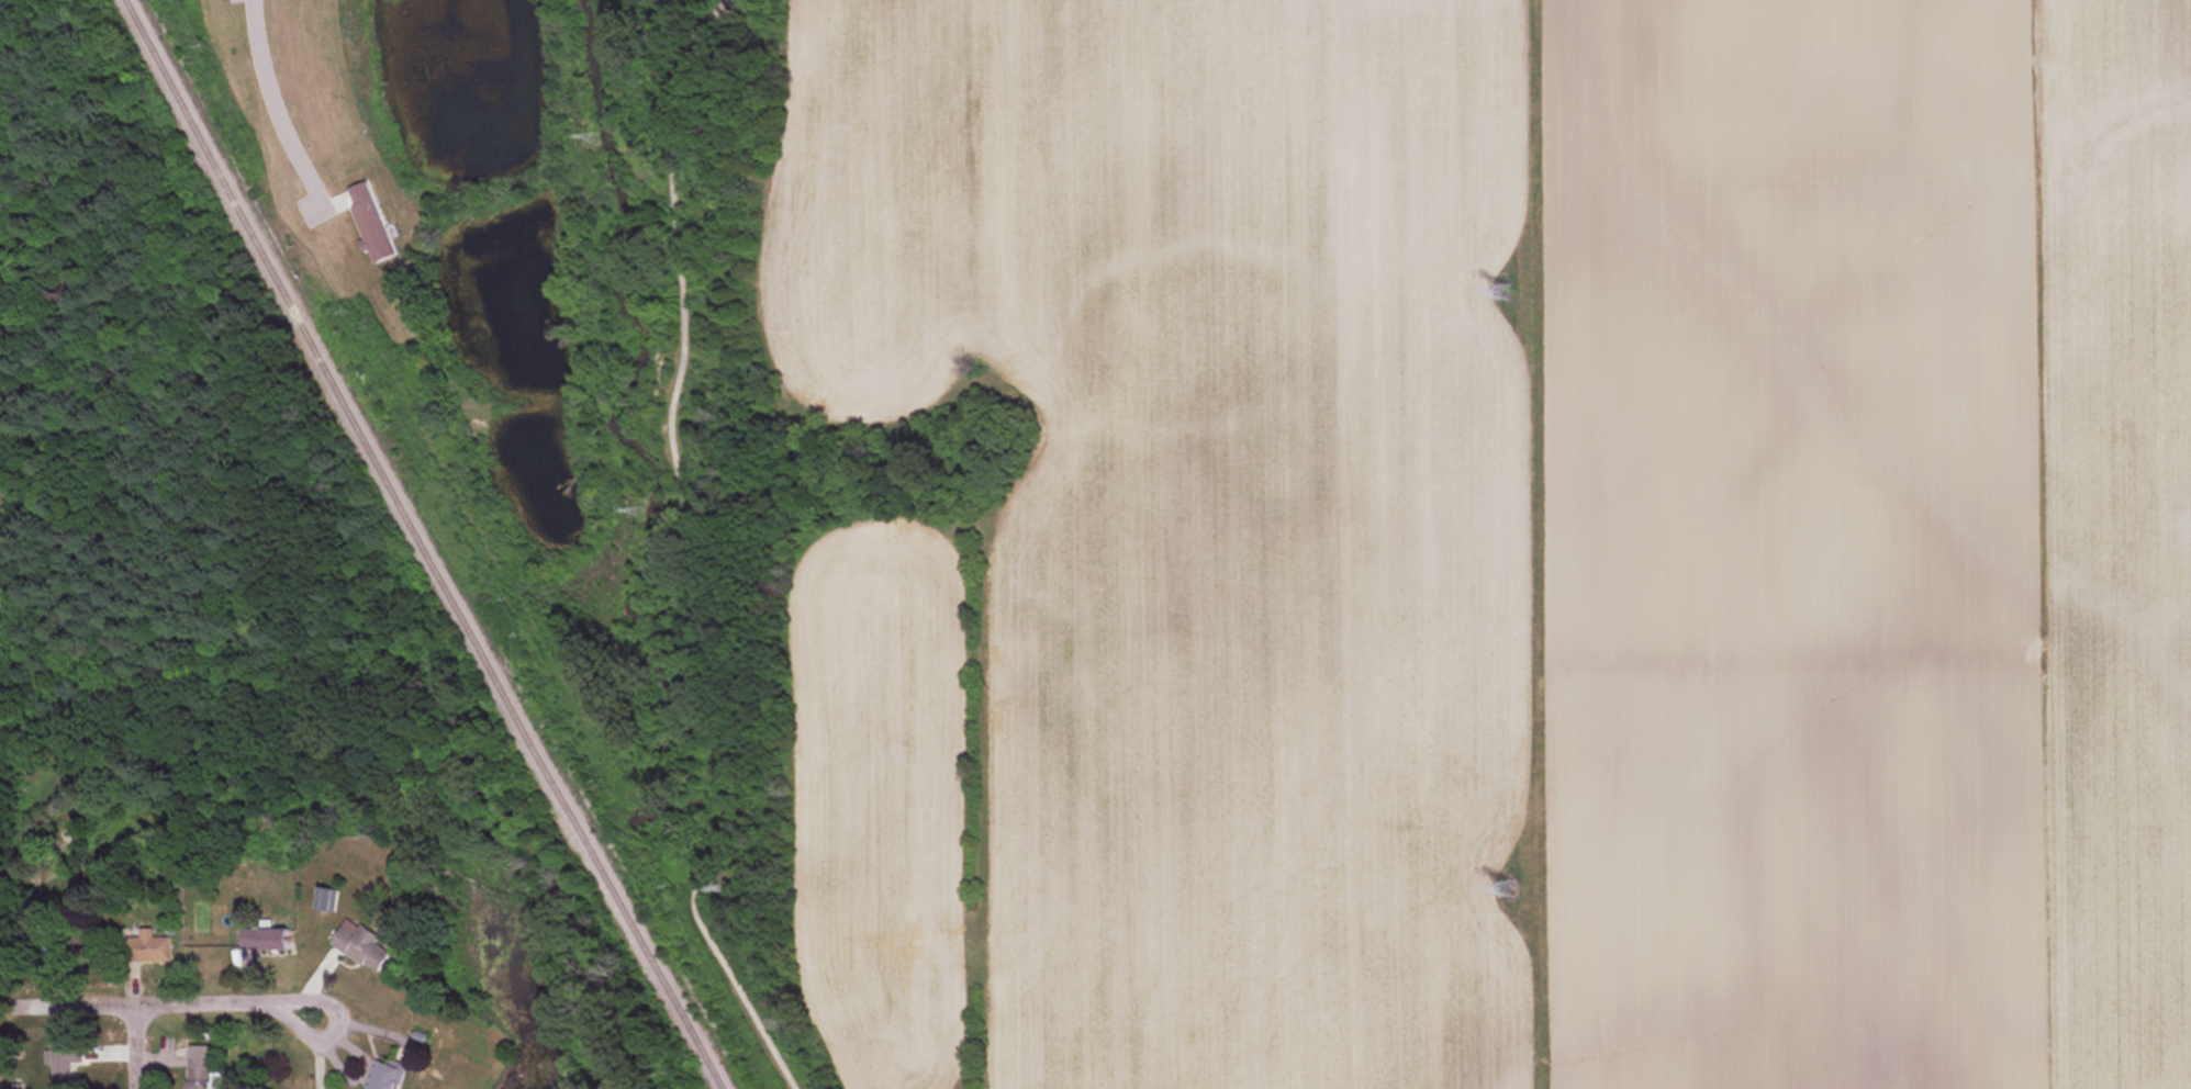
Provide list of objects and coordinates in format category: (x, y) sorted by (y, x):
road: (277, 106)
building: (369, 224)
power tower: (1505, 291)
railway: (422, 544)
road: (689, 550)
power tower: (1508, 888)
building: (262, 939)
building: (360, 944)
building: (147, 947)
building: (75, 948)
road: (225, 1001)
road: (135, 1046)
building: (65, 1066)
building: (198, 1067)
building: (380, 1075)

